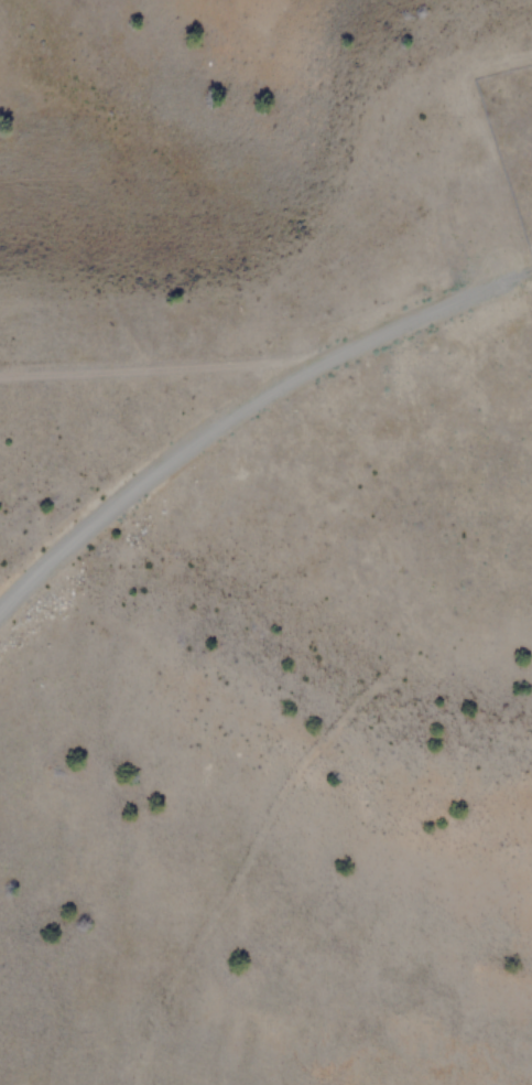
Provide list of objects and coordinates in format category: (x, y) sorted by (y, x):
park: (513, 131)
road: (247, 407)

